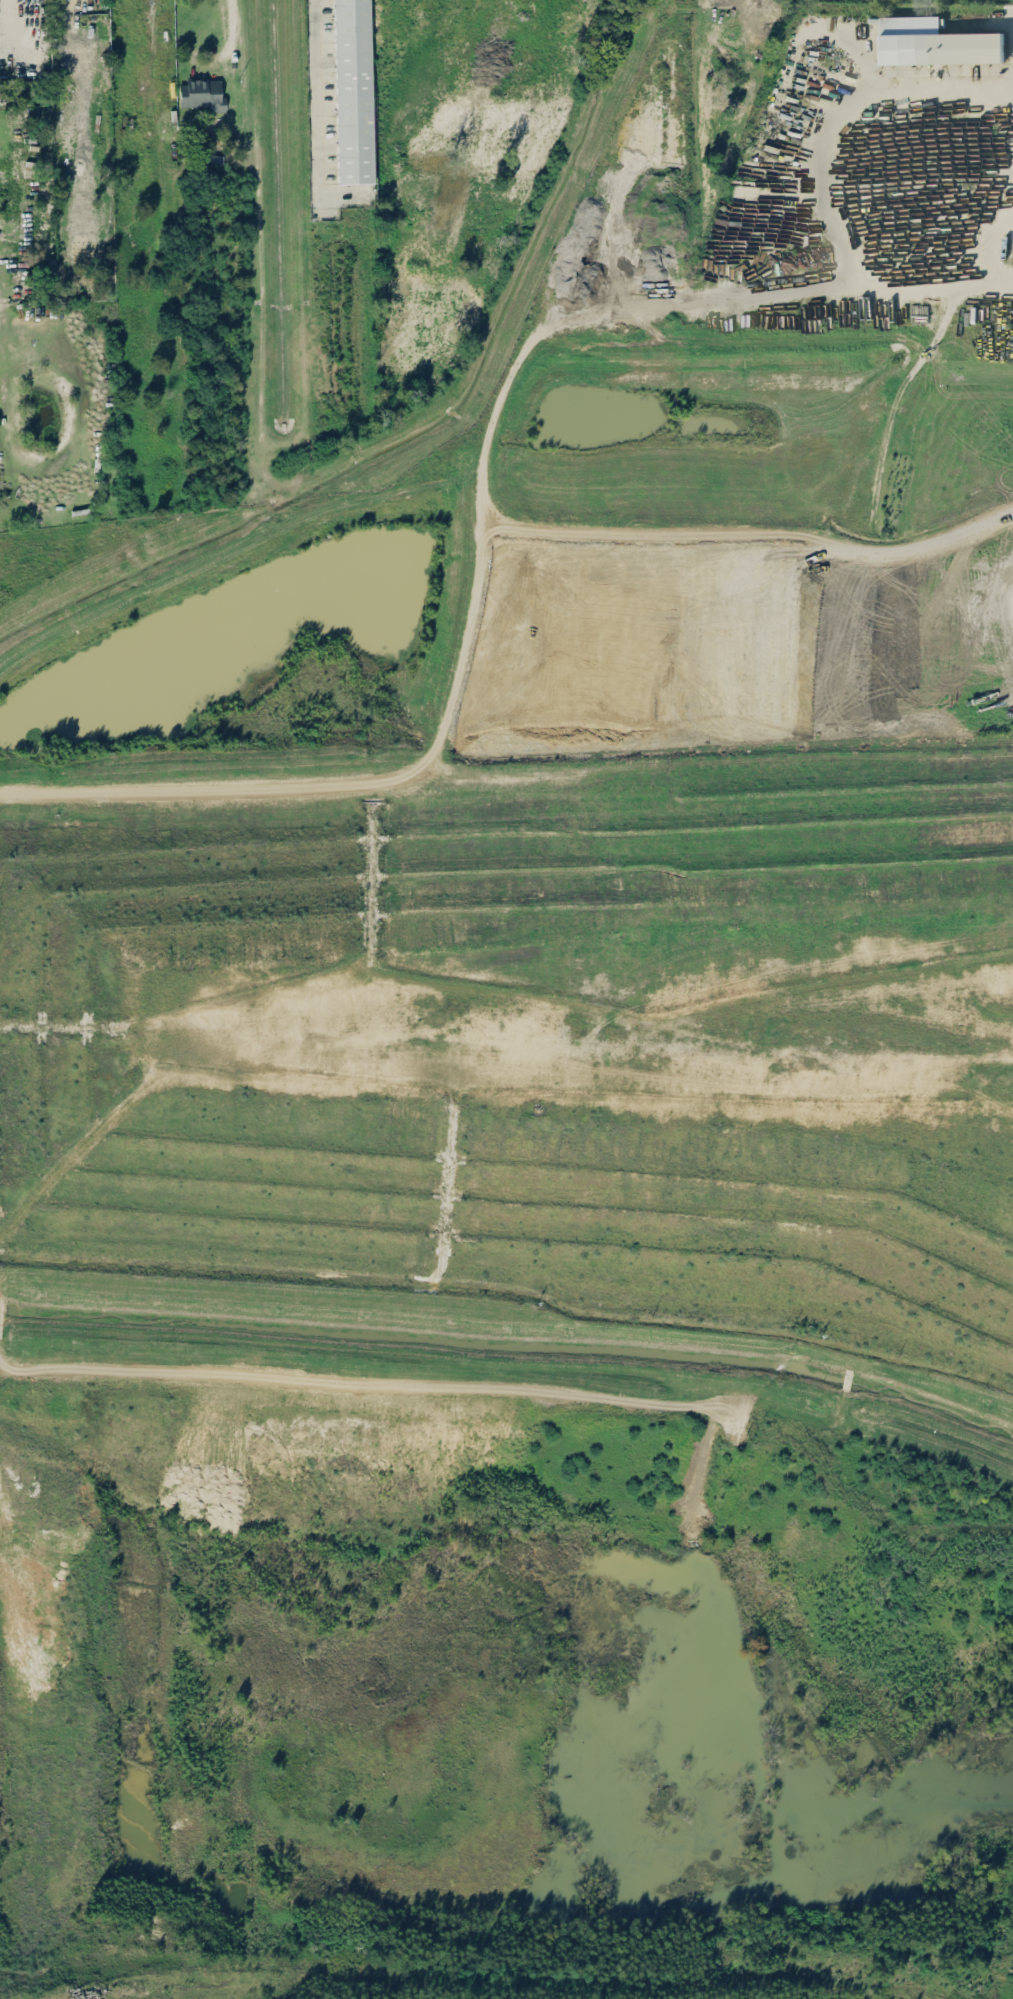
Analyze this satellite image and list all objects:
road: (5, 17)
building: (935, 42)
road: (230, 44)
road: (314, 85)
building: (353, 91)
building: (202, 94)
road: (816, 169)
landfill: (526, 1049)

